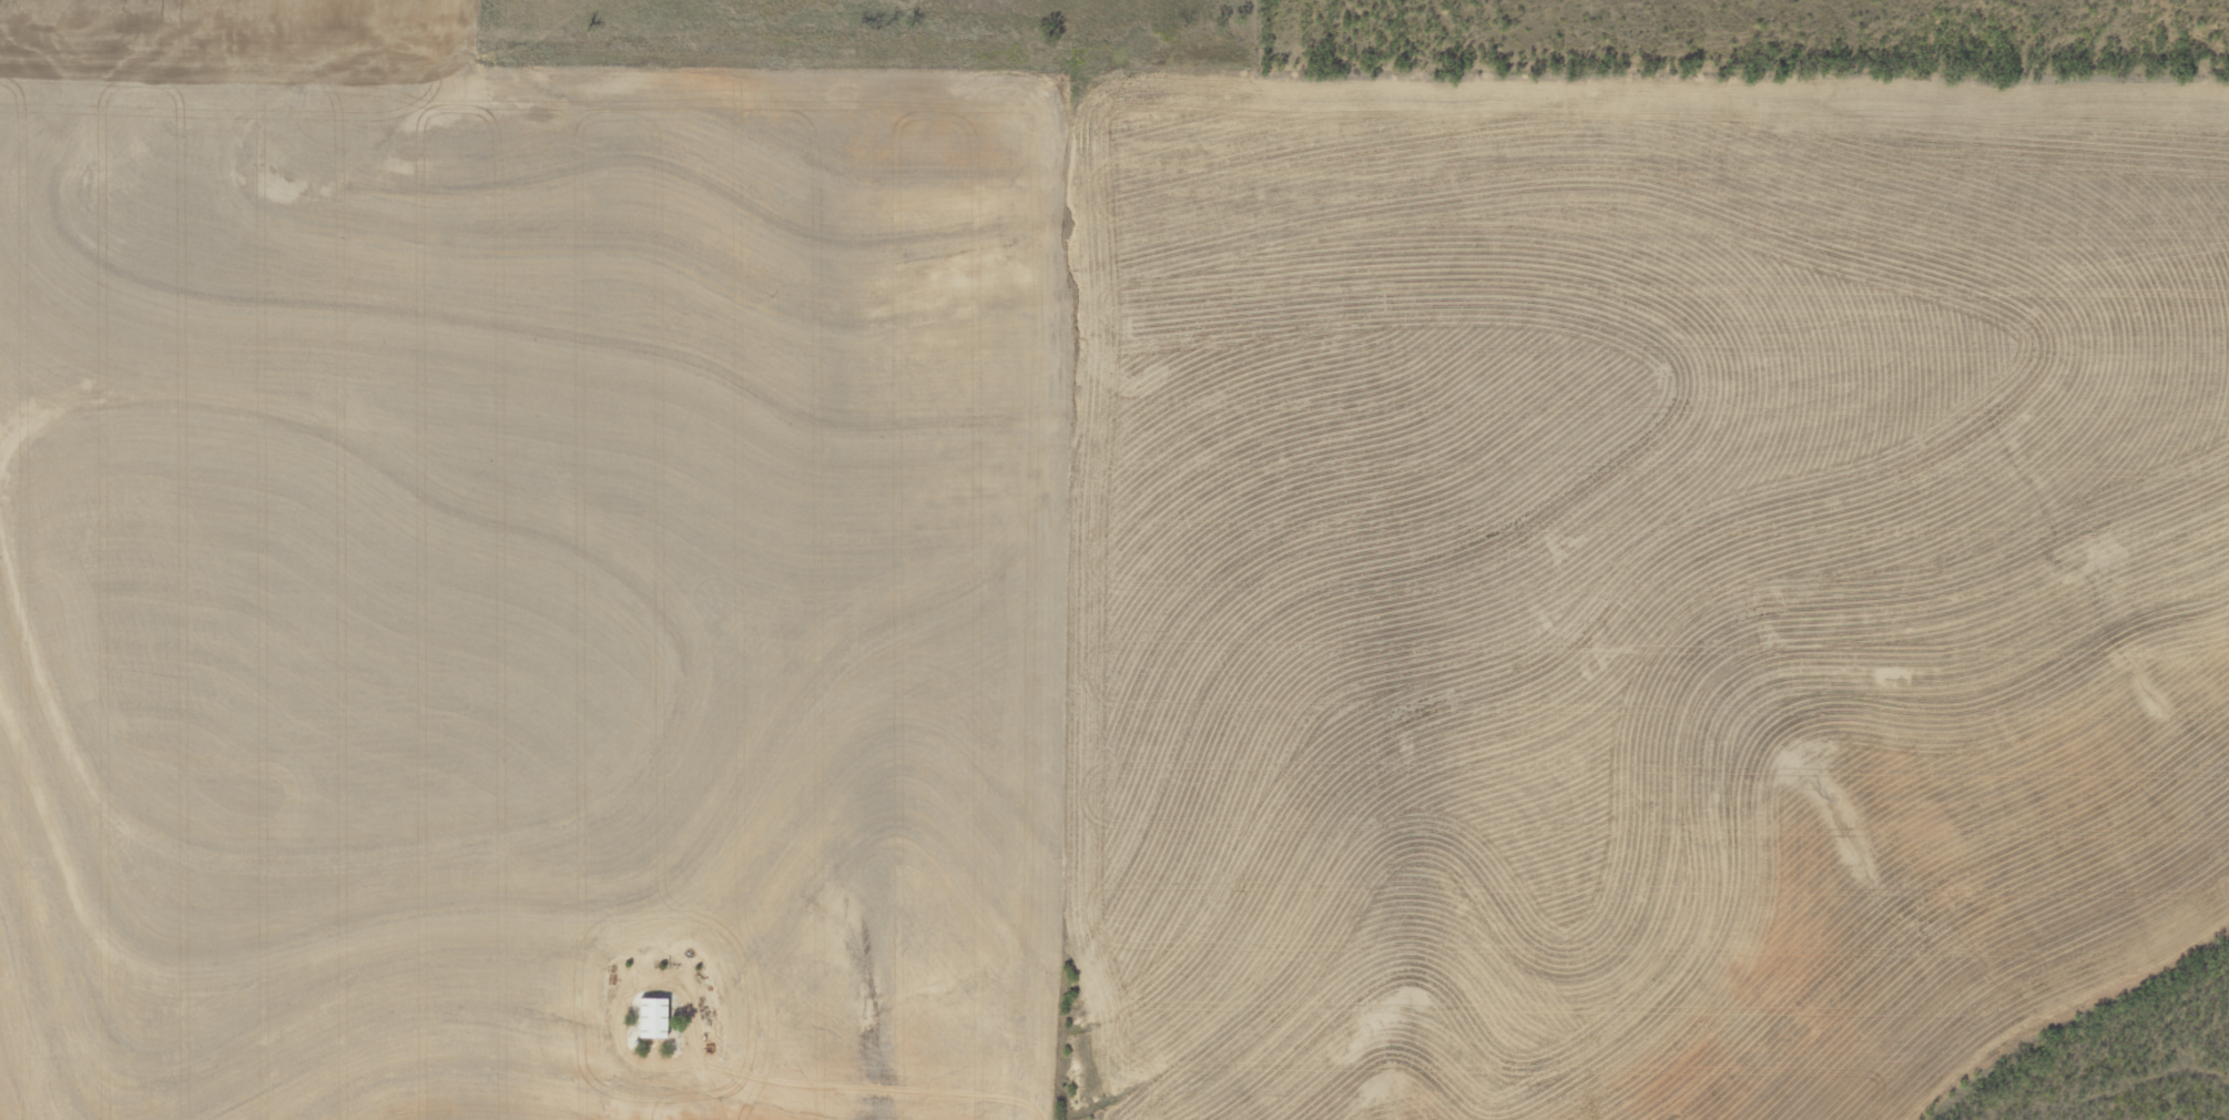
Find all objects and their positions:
building: (649, 1018)
road: (237, 1048)

